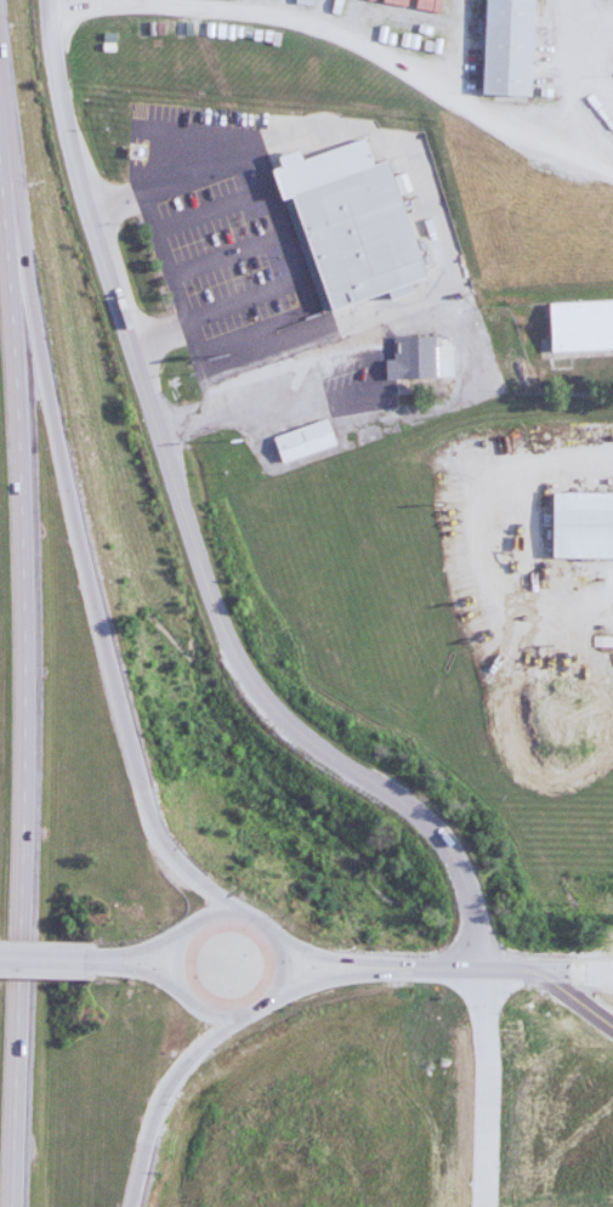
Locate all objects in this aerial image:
building: (300, 1)
road: (342, 39)
building: (503, 46)
parking lot: (197, 134)
building: (348, 220)
road: (285, 244)
parking lot: (226, 255)
building: (579, 325)
building: (419, 355)
parking lot: (354, 370)
road: (220, 419)
building: (301, 441)
building: (579, 526)
road: (186, 532)
road: (527, 532)
road: (87, 563)
road: (18, 703)
road: (155, 942)
road: (317, 952)
road: (59, 959)
road: (176, 960)
road: (148, 973)
road: (318, 976)
road: (484, 976)
road: (483, 1092)
road: (155, 1099)
gas station: (611, 1127)

